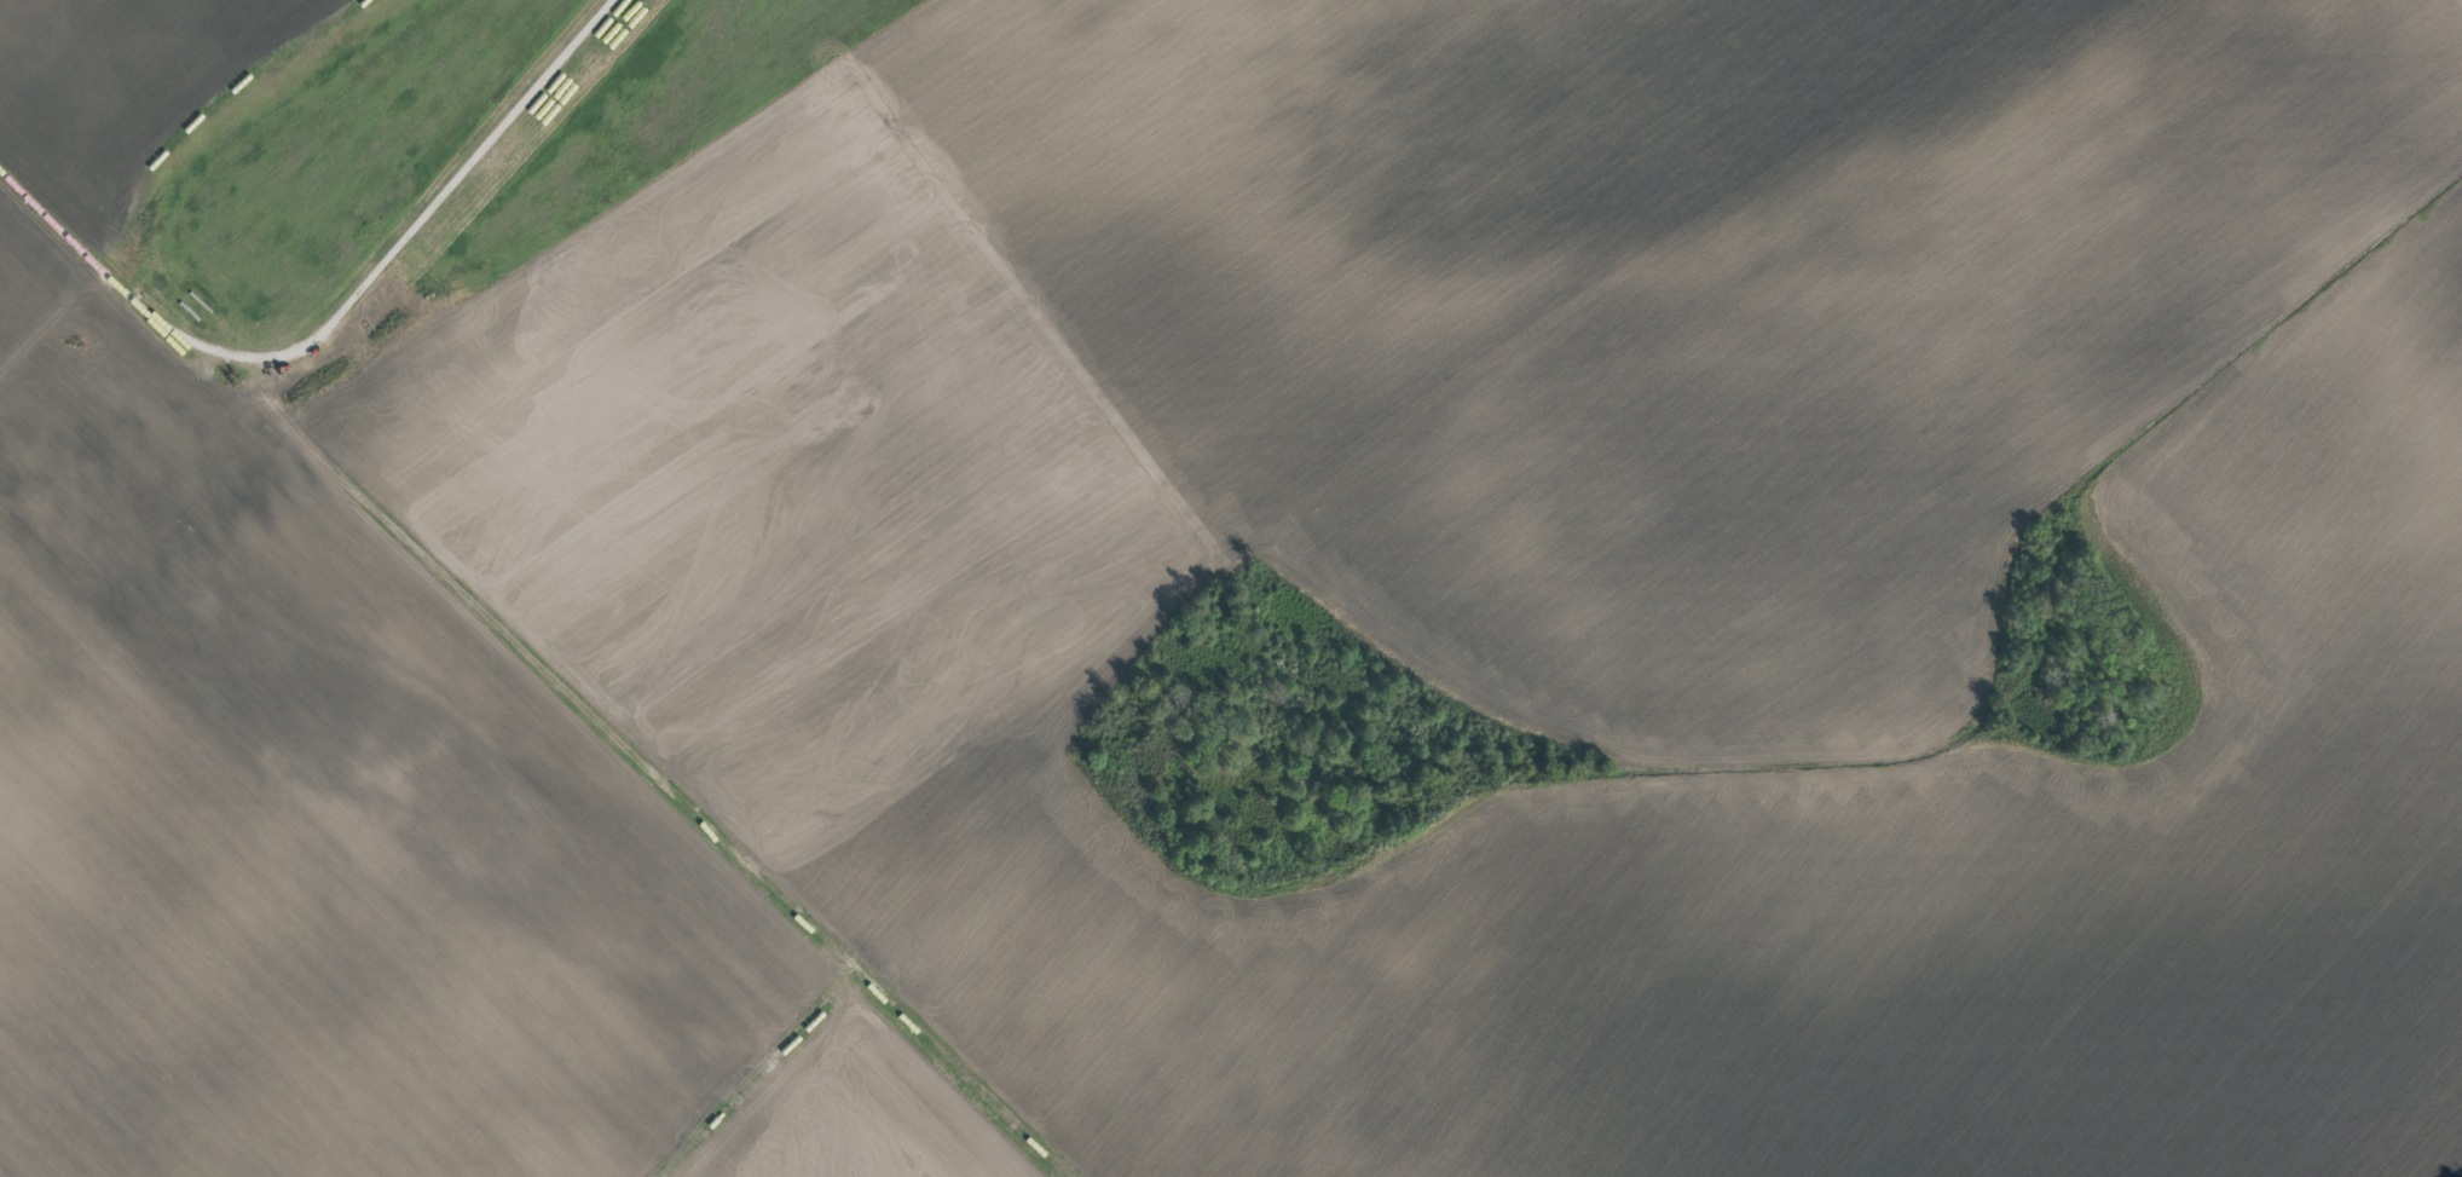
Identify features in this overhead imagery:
road: (508, 631)
road: (532, 778)

